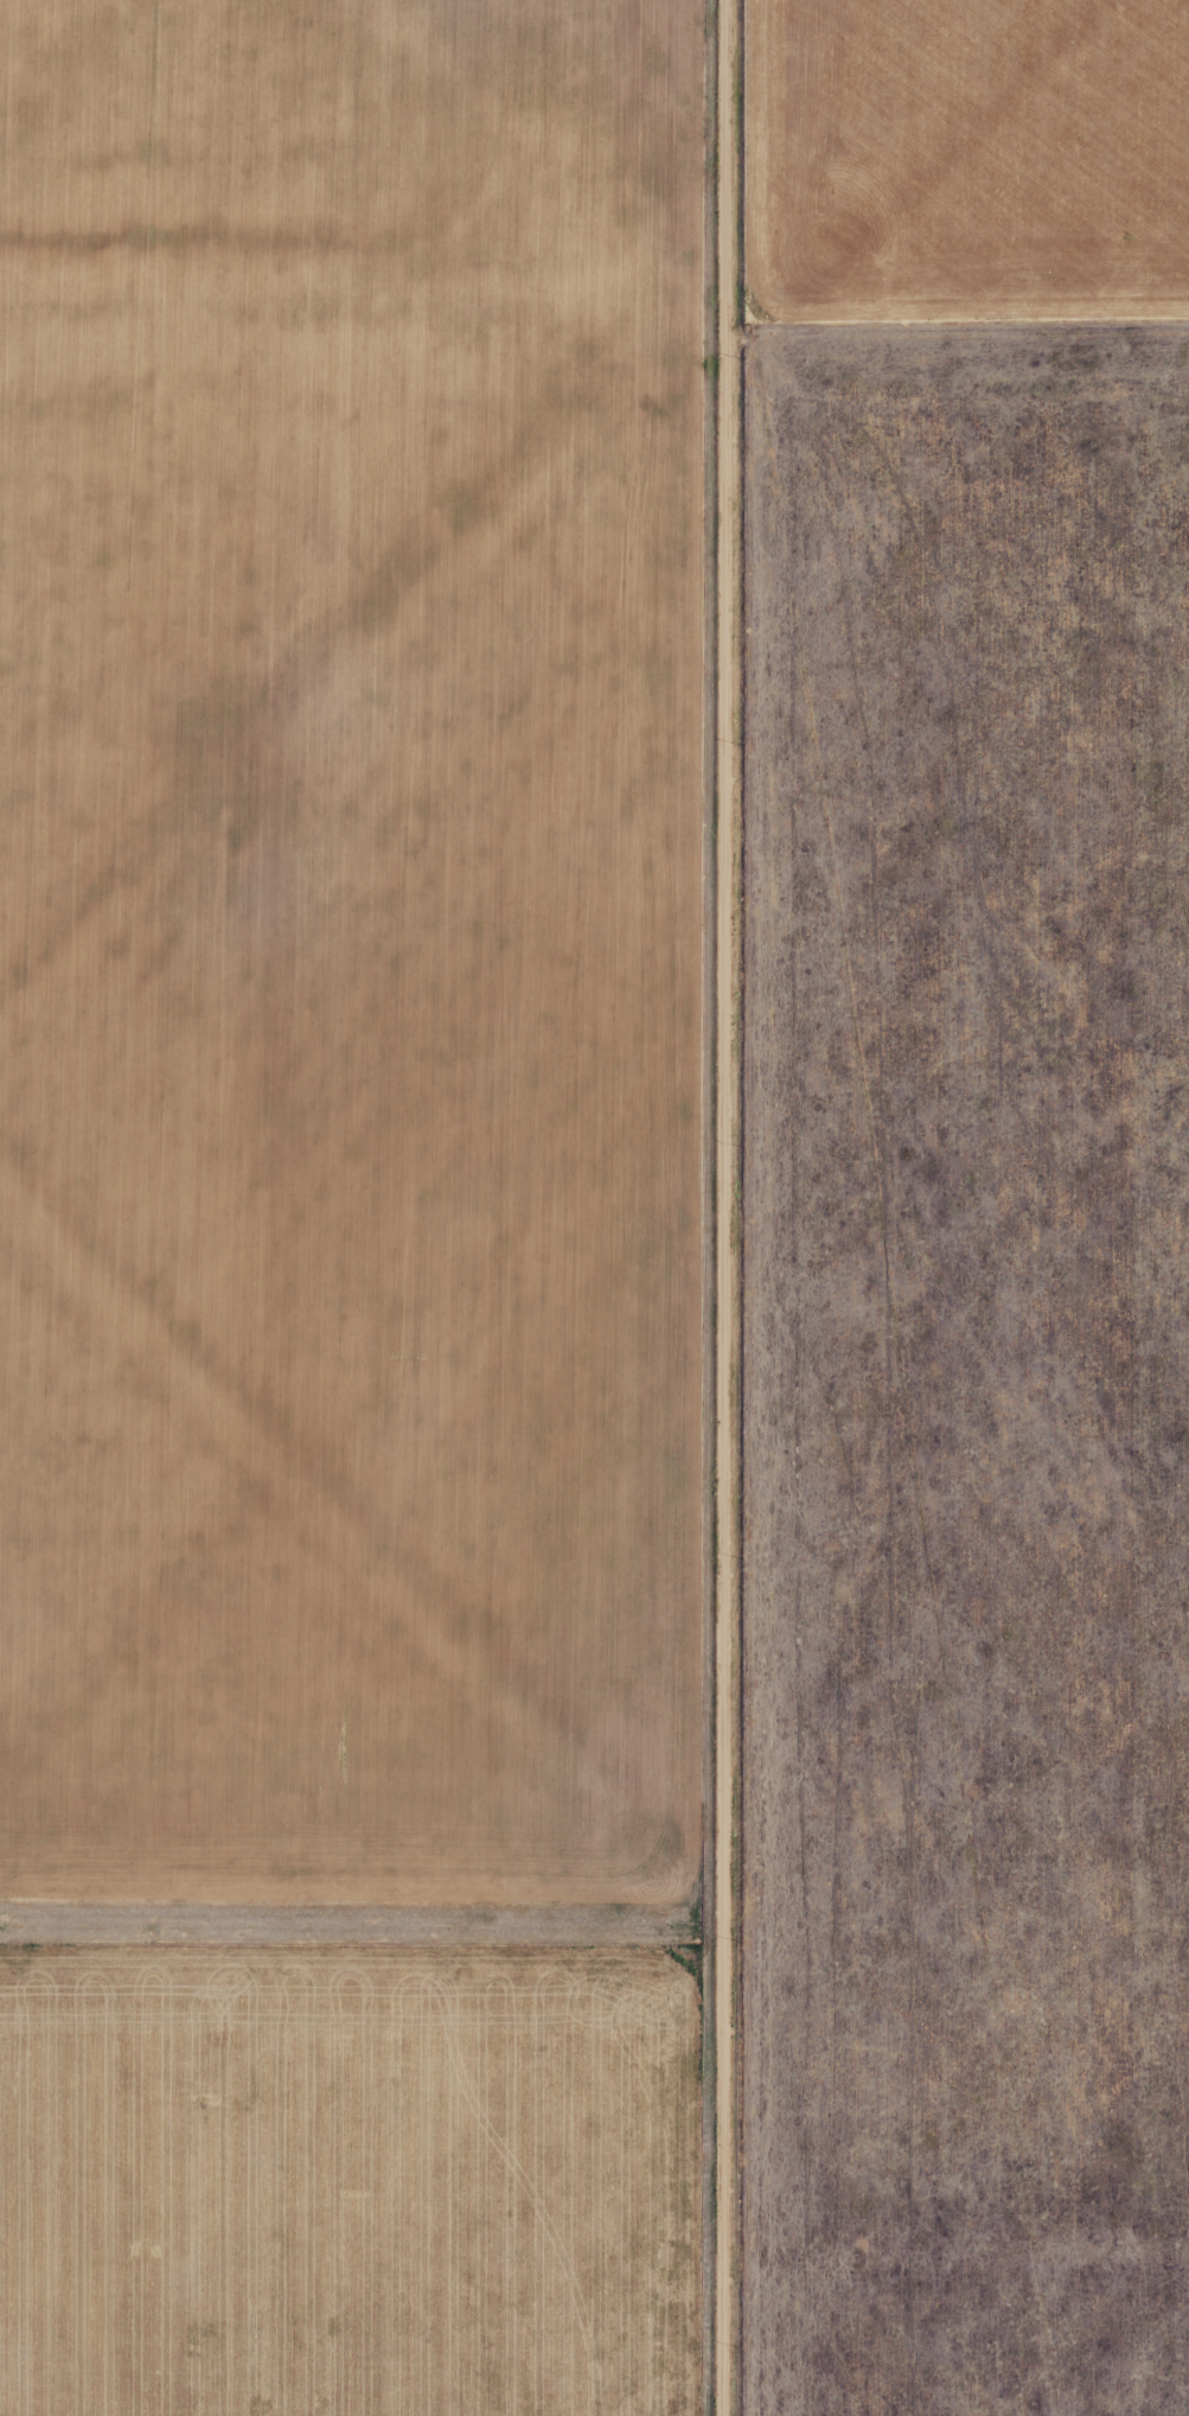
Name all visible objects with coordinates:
road: (955, 292)
road: (722, 1207)

